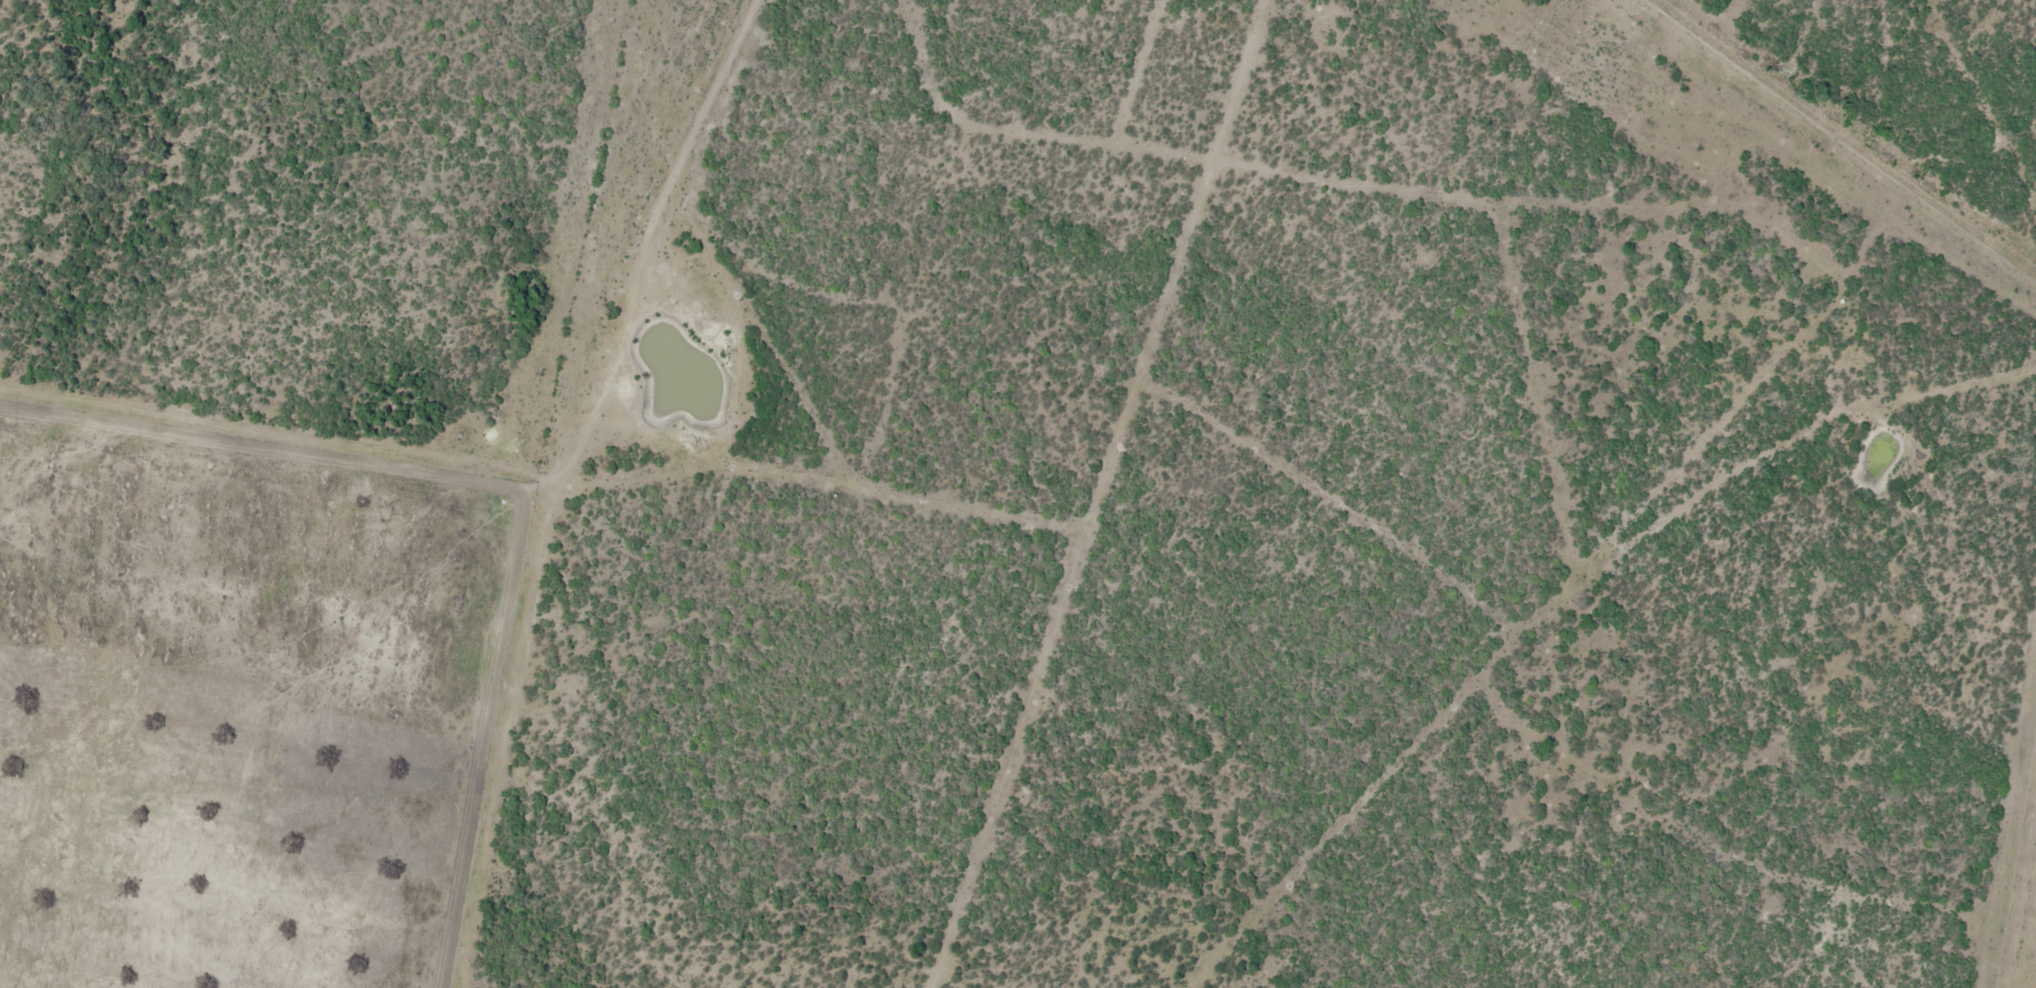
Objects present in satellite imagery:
road: (46, 89)
road: (1822, 151)

